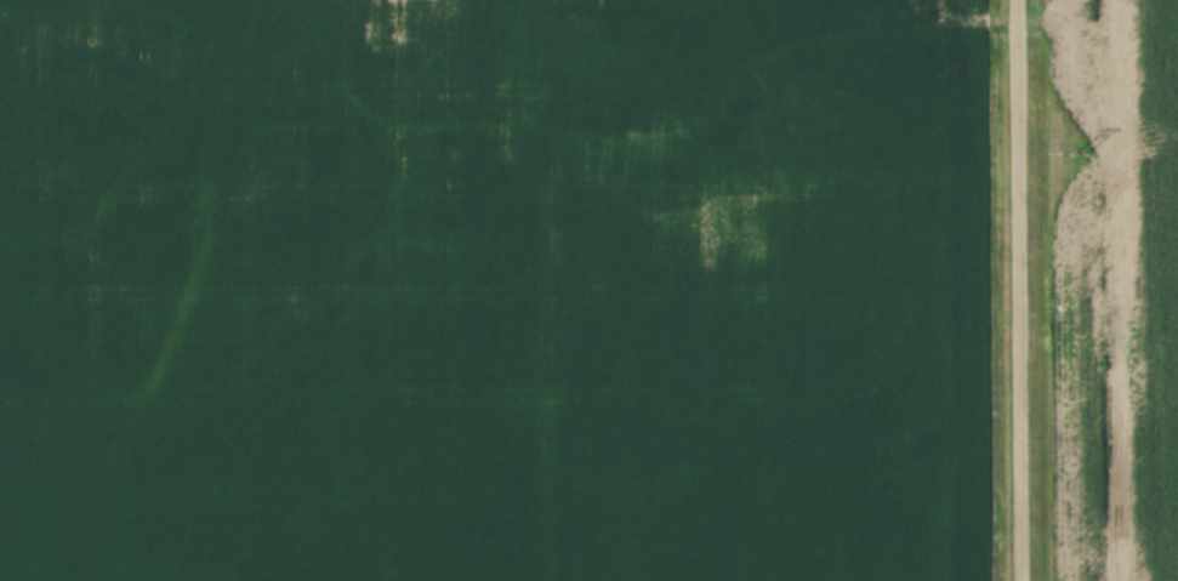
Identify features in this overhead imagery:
power tower: (1081, 152)
road: (1023, 290)

